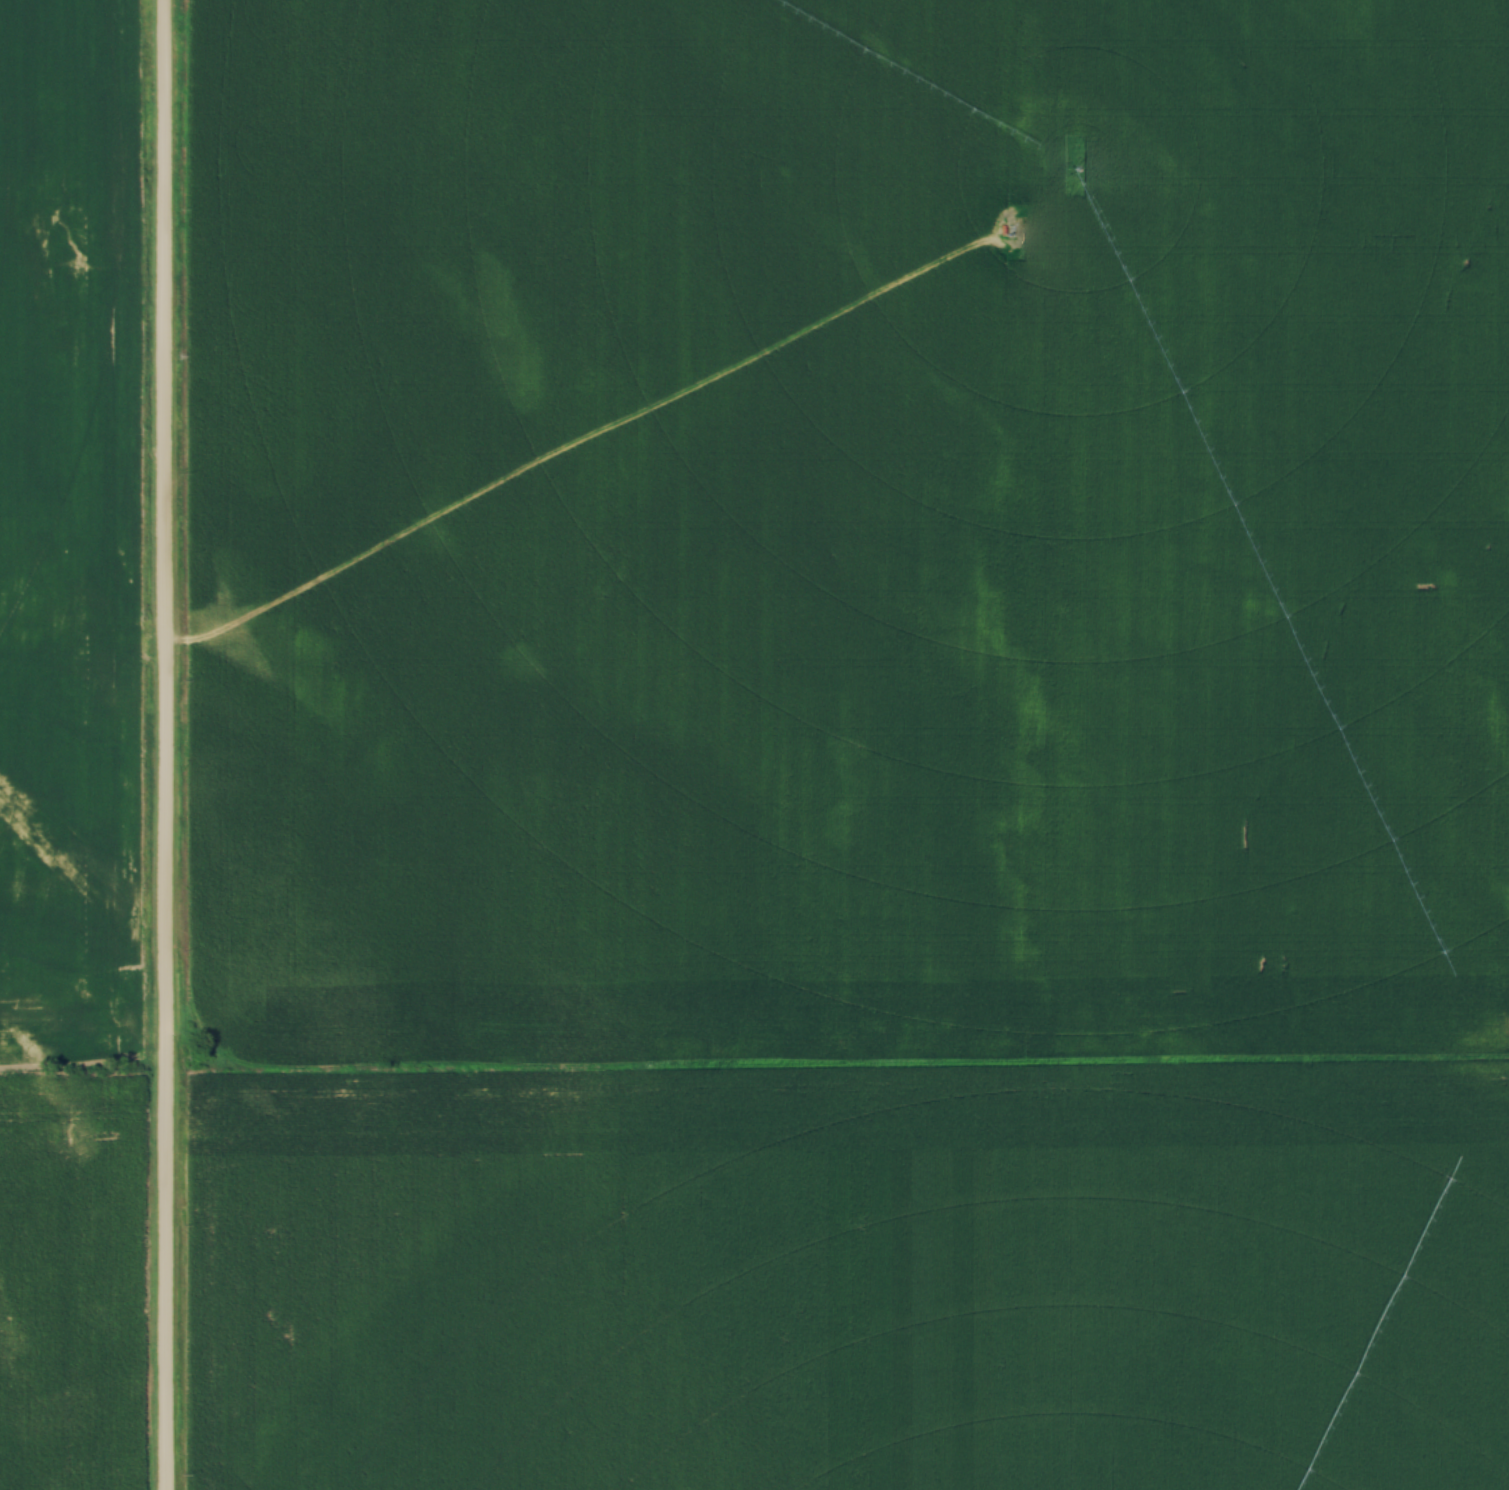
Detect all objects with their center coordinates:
road: (164, 745)

